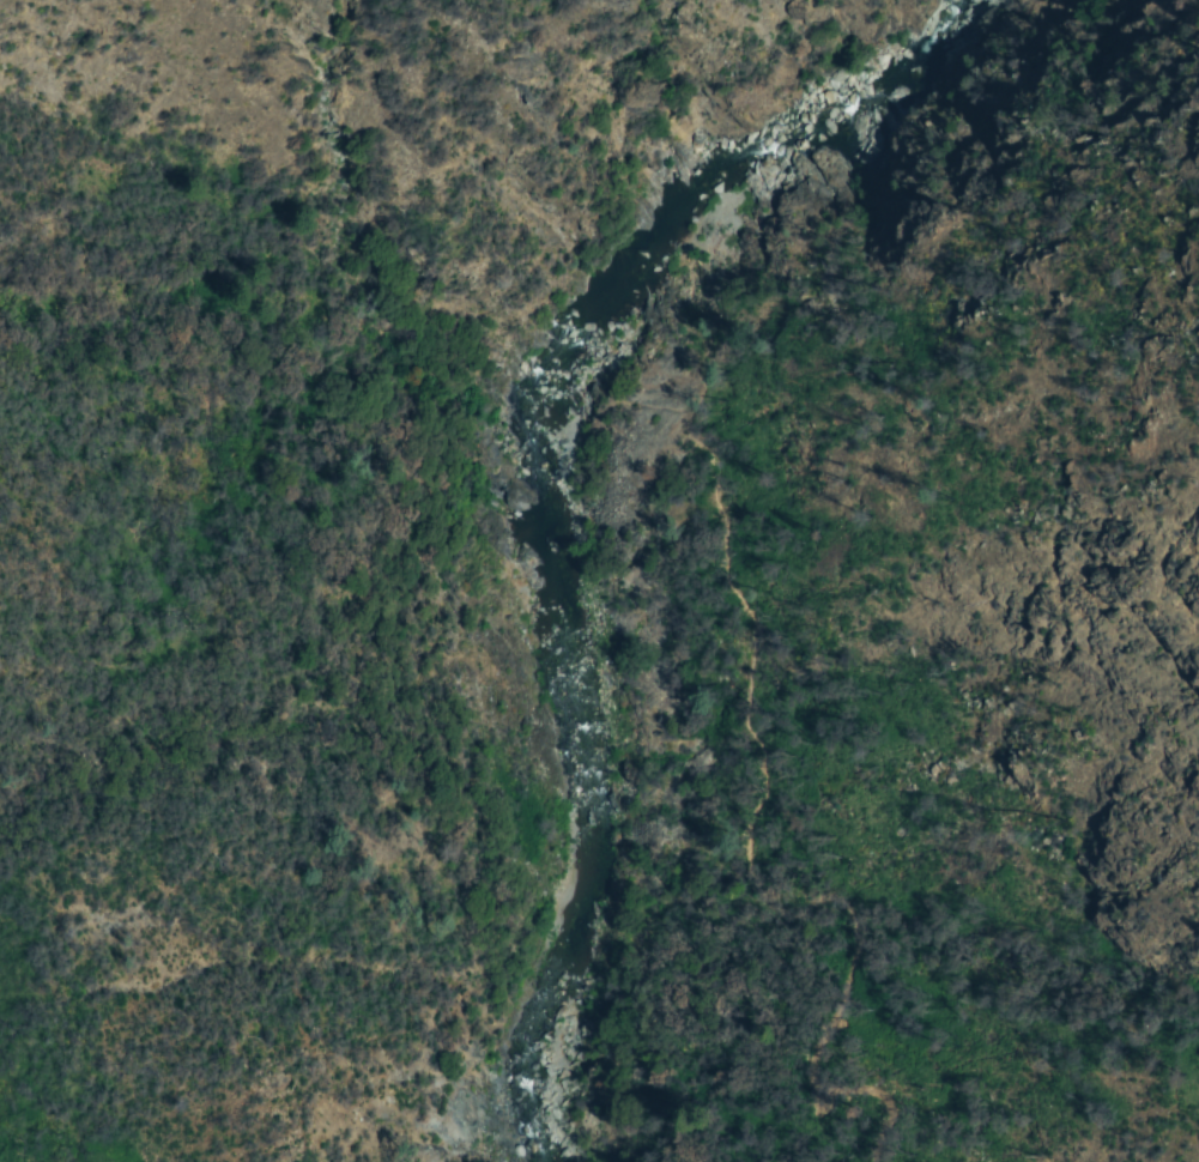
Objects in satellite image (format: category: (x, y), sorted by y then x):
river: (526, 488)

